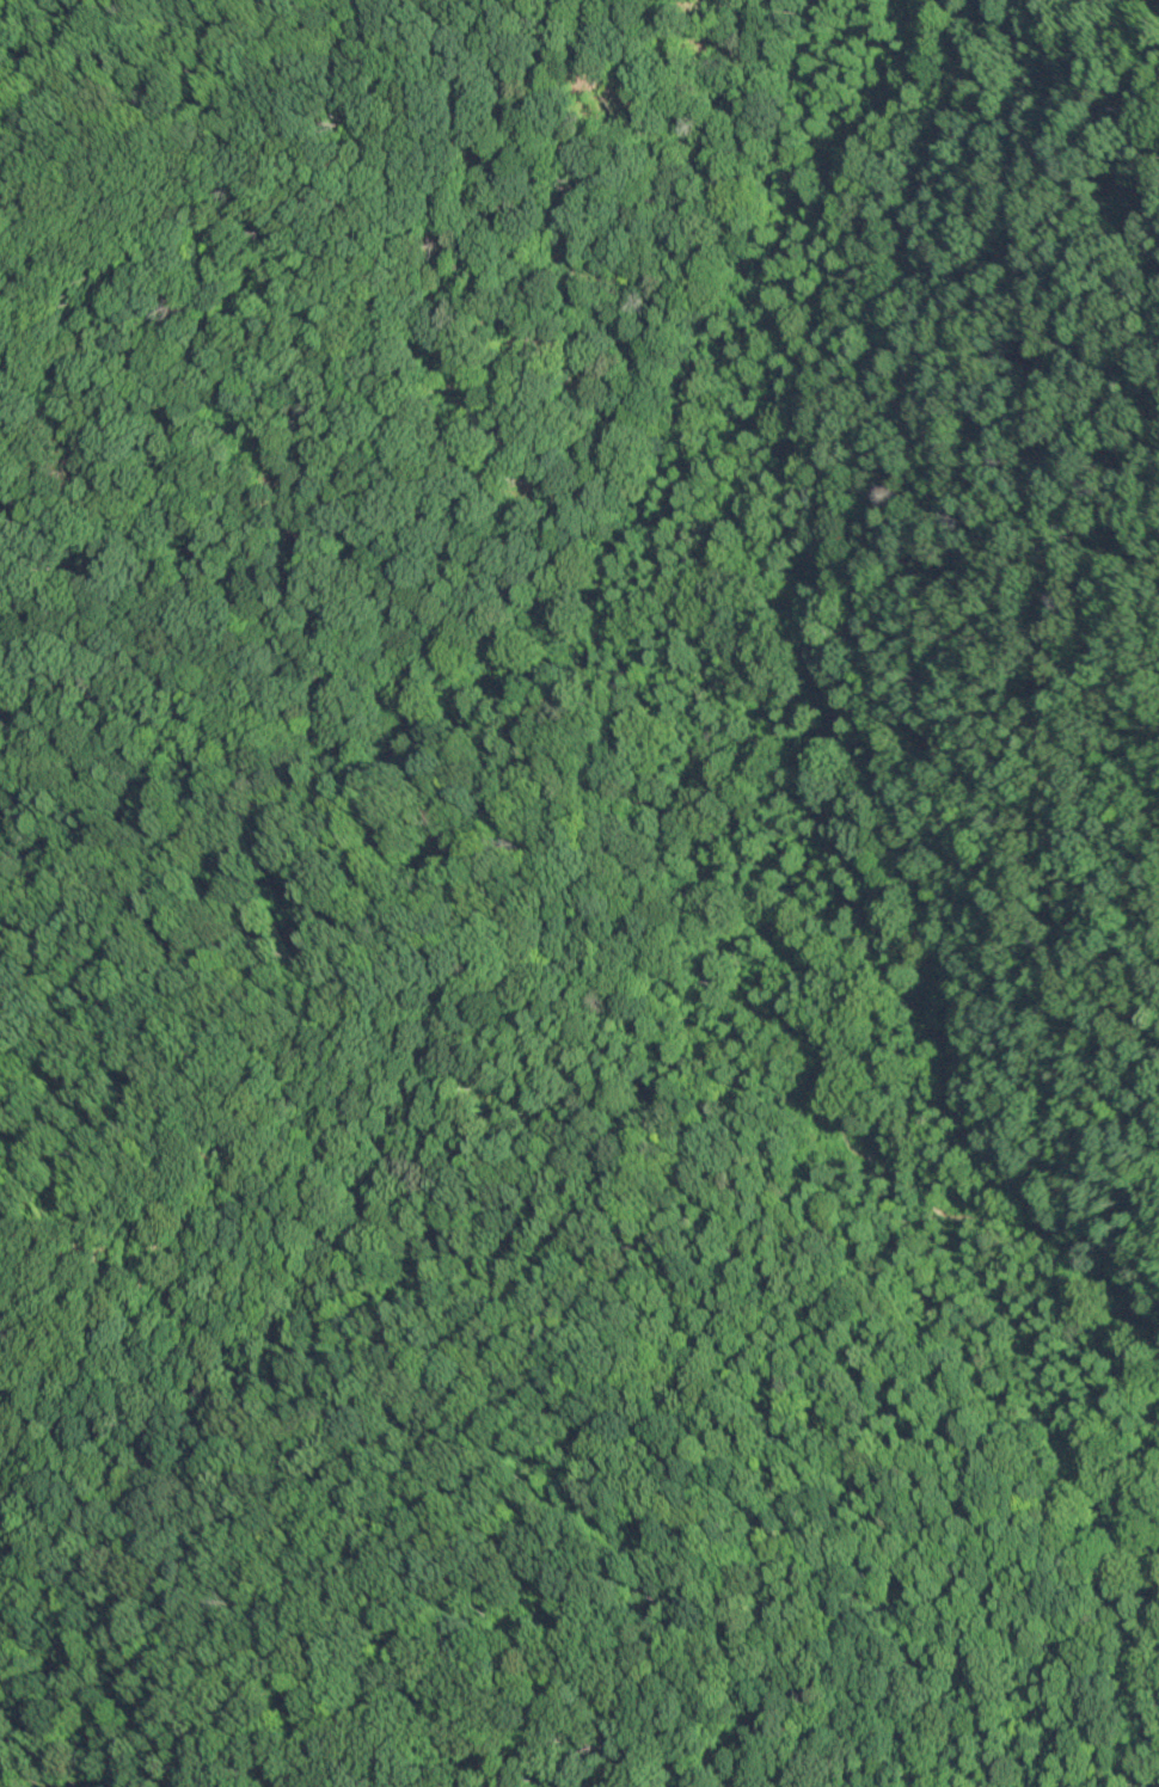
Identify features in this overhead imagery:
road: (854, 708)

